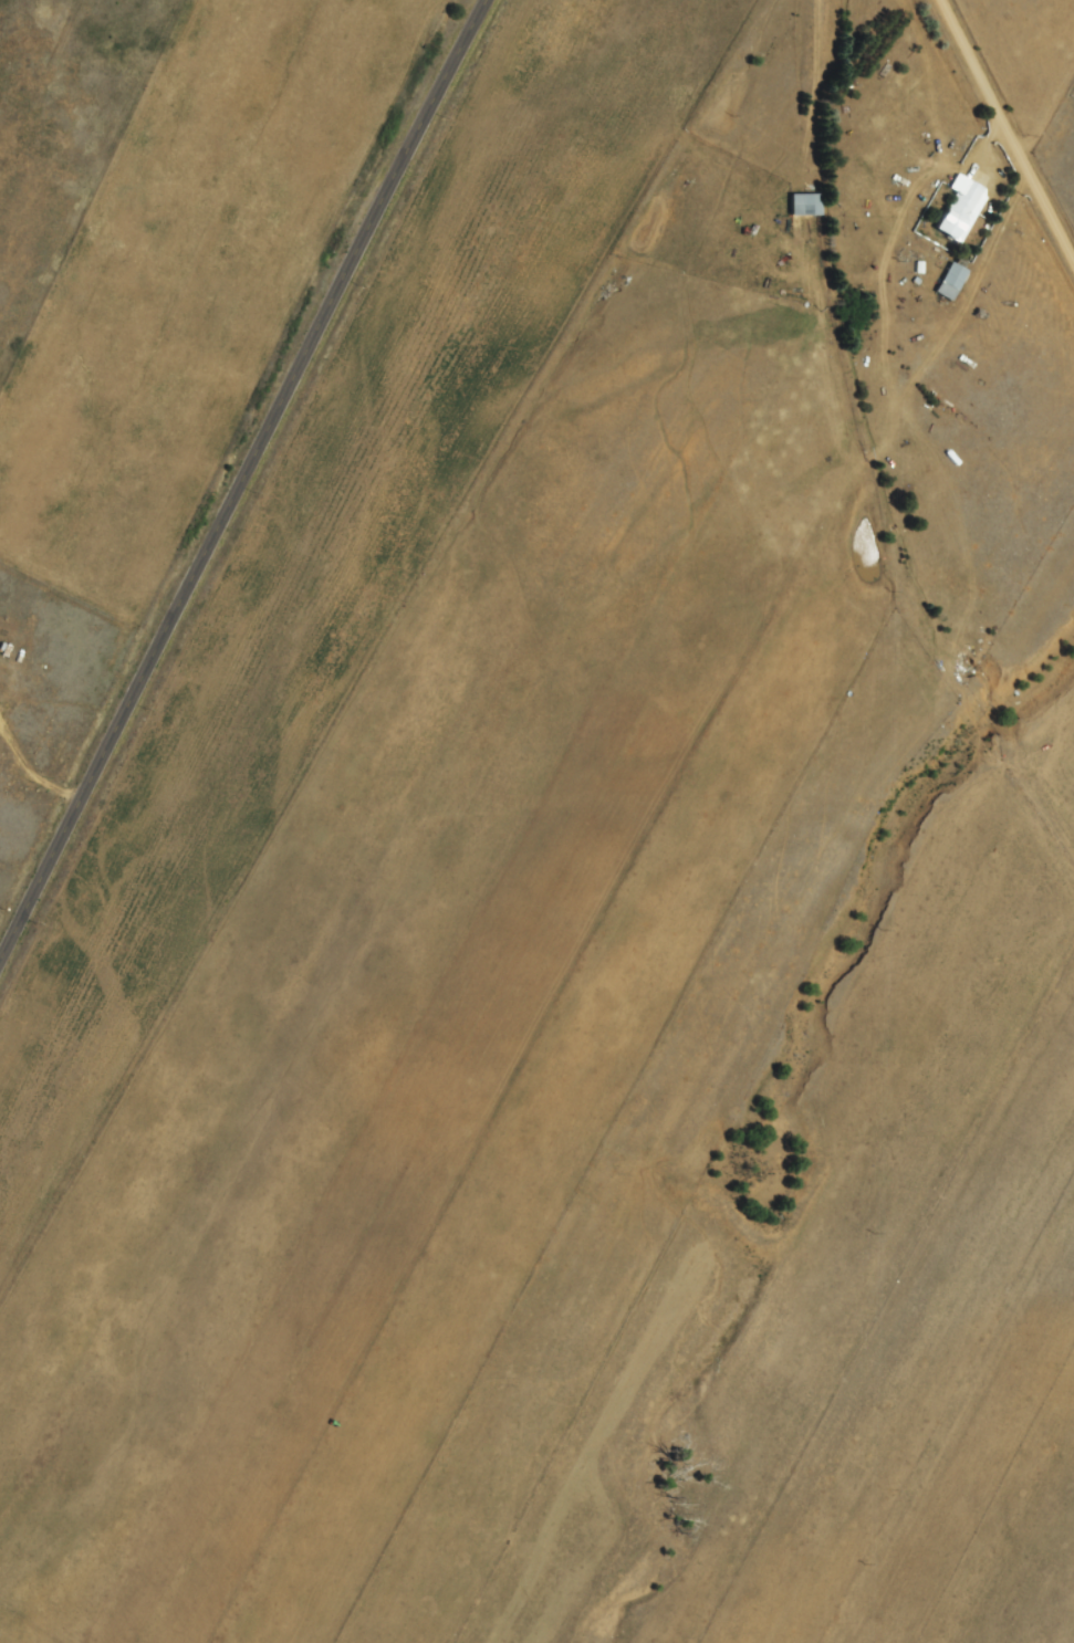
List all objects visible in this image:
road: (1022, 98)
building: (800, 205)
building: (958, 207)
building: (947, 282)
road: (240, 477)

